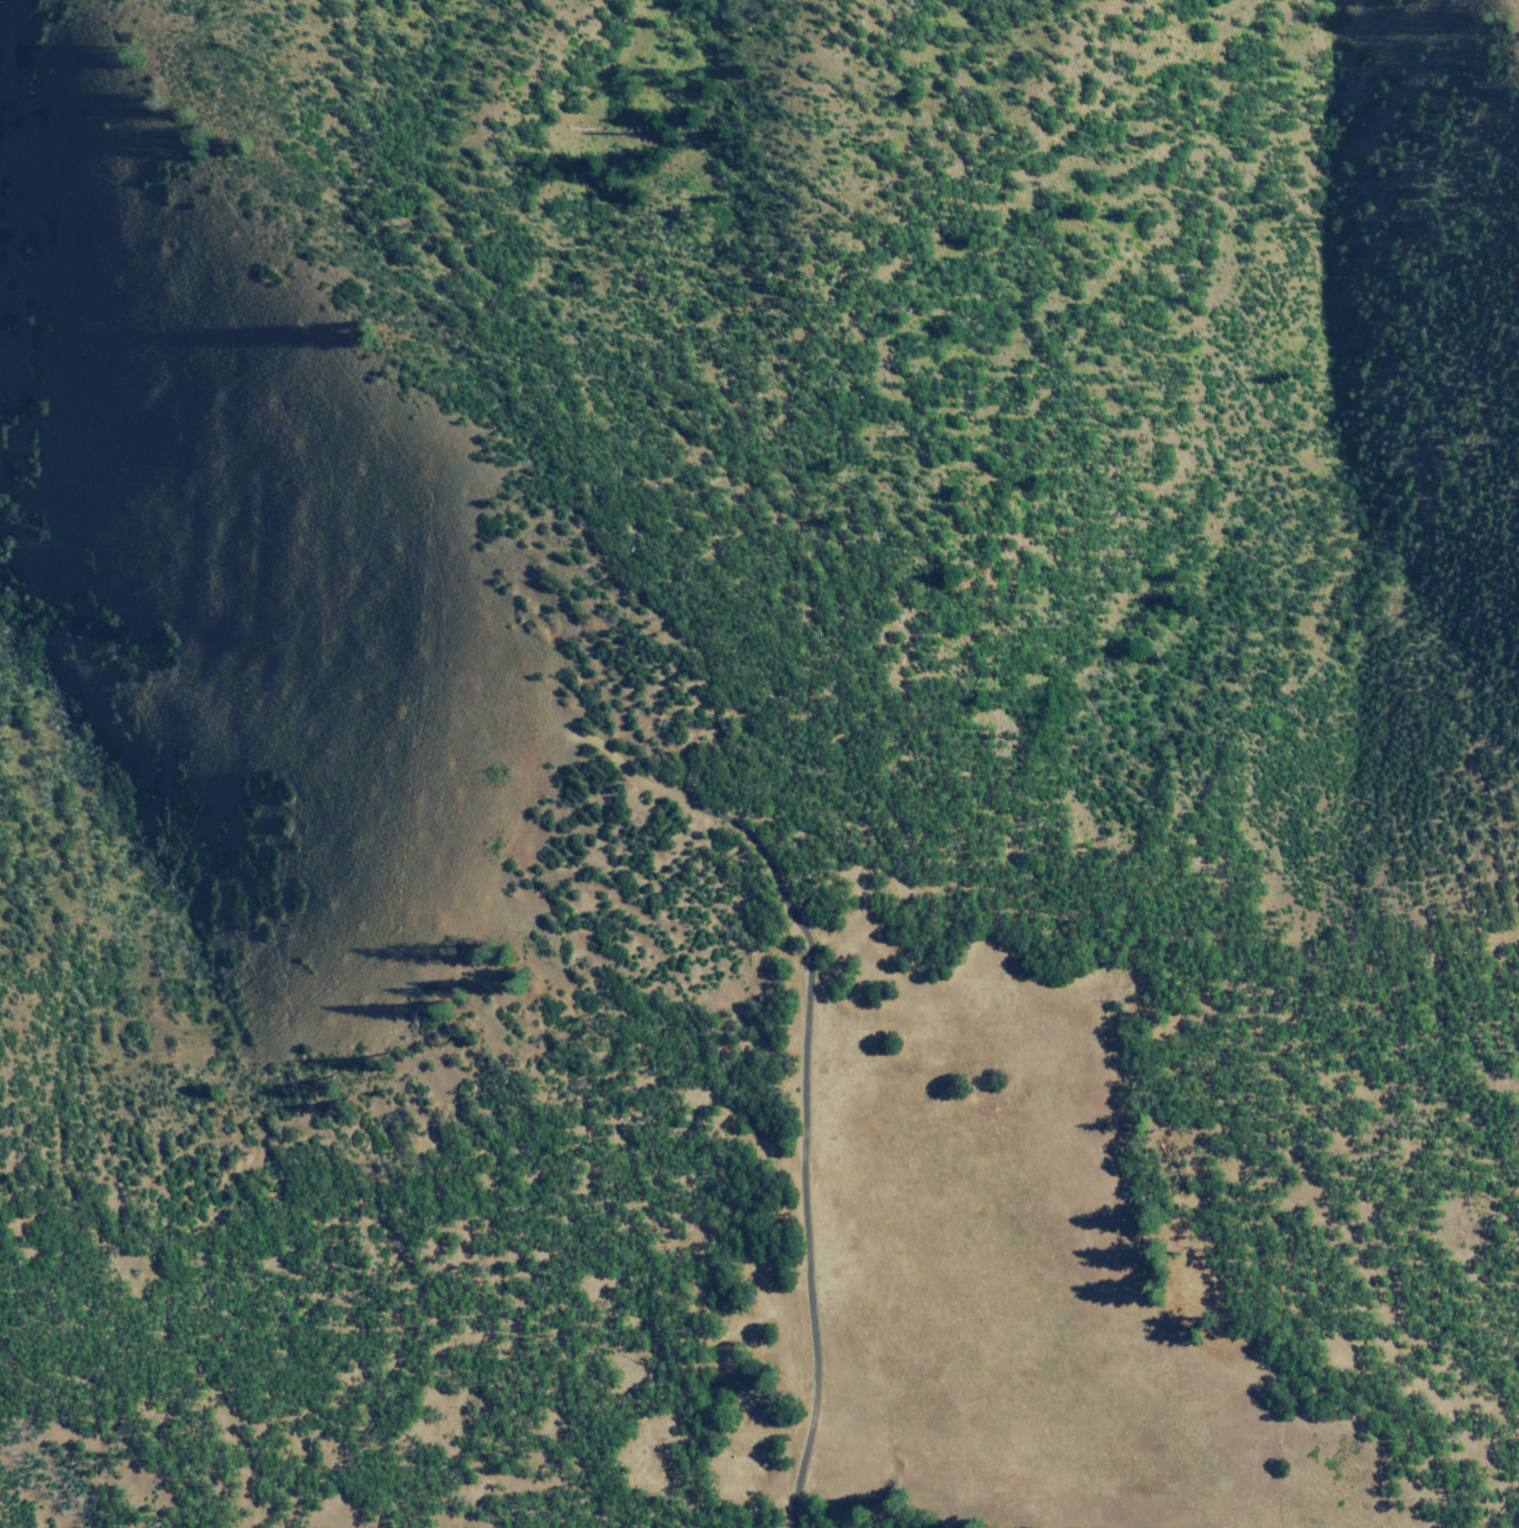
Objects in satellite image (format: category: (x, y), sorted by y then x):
road: (801, 1069)

